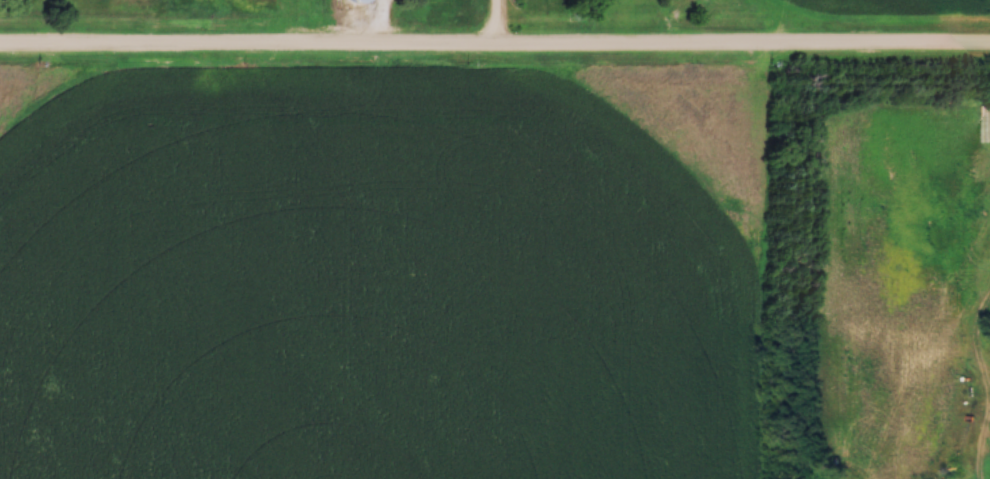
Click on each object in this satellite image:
building: (358, 1)
road: (383, 24)
road: (494, 24)
road: (495, 48)

